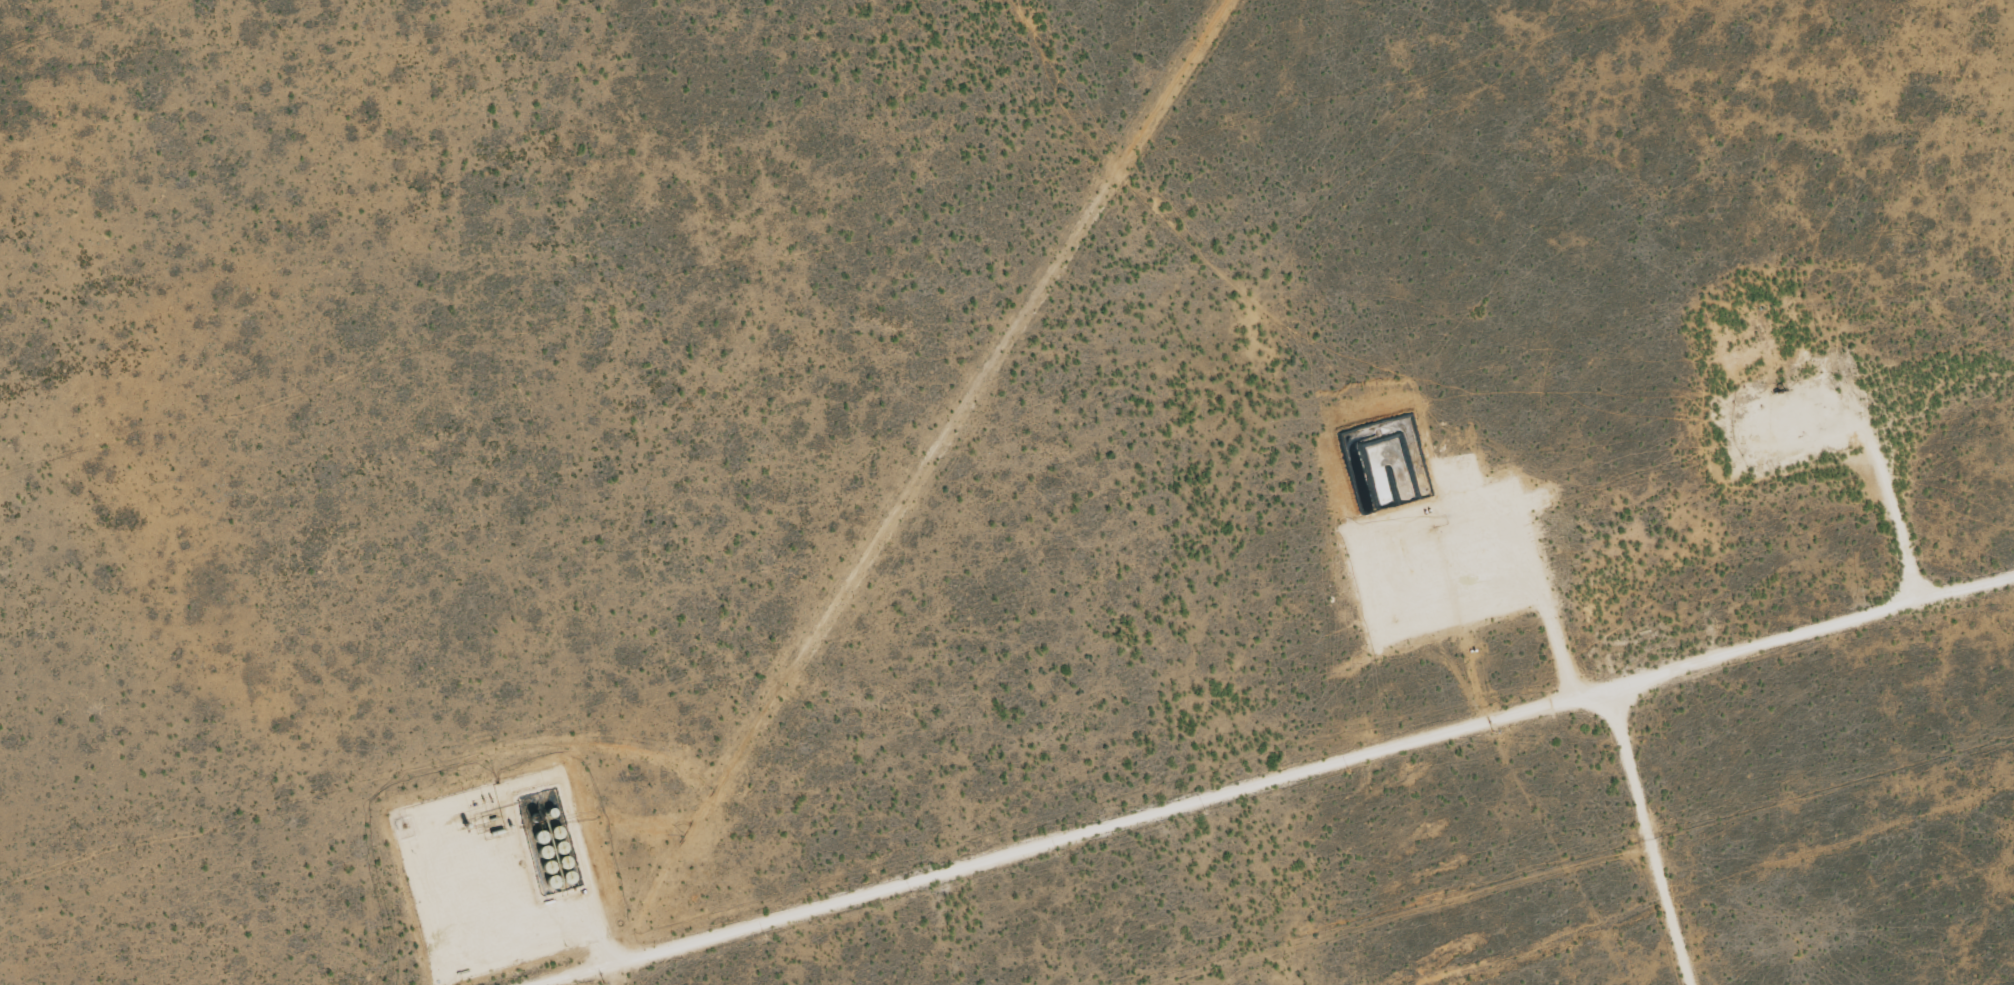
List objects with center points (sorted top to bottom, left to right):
road: (1276, 778)
road: (1627, 839)

